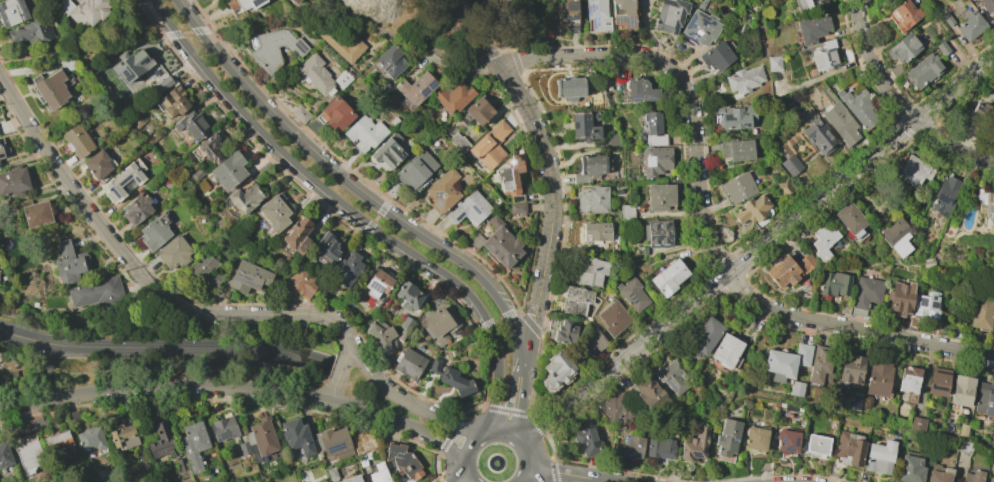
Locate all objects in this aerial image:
building: (891, 0)
building: (294, 1)
building: (243, 4)
building: (701, 4)
building: (809, 4)
building: (987, 7)
rooftop solar panel: (589, 8)
building: (84, 10)
building: (12, 12)
building: (567, 14)
building: (623, 14)
building: (597, 15)
building: (670, 15)
building: (904, 15)
road: (281, 18)
road: (507, 19)
building: (947, 19)
rooftop solar panel: (628, 20)
park: (516, 21)
rooftop solar panel: (704, 21)
rooftop solar panel: (594, 22)
rooftop solar panel: (690, 22)
park: (409, 25)
building: (970, 26)
building: (701, 27)
building: (812, 28)
building: (31, 31)
road: (475, 31)
rooftop solar panel: (693, 33)
road: (408, 37)
rooftop solar panel: (690, 38)
building: (341, 45)
road: (88, 48)
building: (274, 48)
building: (903, 48)
building: (942, 48)
building: (717, 54)
road: (500, 55)
building: (824, 59)
building: (390, 61)
building: (774, 63)
building: (131, 65)
road: (459, 69)
building: (896, 69)
building: (922, 71)
building: (314, 74)
building: (342, 79)
building: (744, 79)
rooftop solar panel: (434, 83)
building: (163, 84)
building: (569, 88)
building: (51, 89)
building: (414, 90)
rooftop solar panel: (425, 90)
building: (640, 91)
building: (452, 96)
rooftop solar panel: (635, 96)
road: (890, 96)
rooftop solar panel: (651, 97)
building: (597, 100)
building: (174, 101)
building: (859, 108)
building: (478, 111)
building: (301, 113)
building: (334, 113)
building: (979, 115)
rooftop solar panel: (727, 117)
building: (732, 118)
building: (137, 122)
building: (840, 123)
rooftop solar panel: (746, 124)
building: (192, 125)
building: (584, 126)
building: (653, 129)
building: (364, 133)
building: (819, 136)
building: (77, 141)
building: (458, 142)
building: (489, 145)
building: (209, 148)
building: (736, 150)
building: (387, 152)
building: (1, 154)
road: (983, 160)
building: (654, 161)
building: (99, 165)
building: (791, 165)
building: (591, 167)
building: (229, 170)
building: (414, 170)
building: (913, 171)
building: (197, 174)
building: (508, 174)
rooftop solar panel: (509, 174)
building: (123, 180)
building: (14, 182)
road: (345, 182)
road: (69, 186)
rooftop solar panel: (508, 186)
building: (739, 187)
building: (784, 187)
building: (442, 191)
rooftop solar panel: (438, 193)
building: (944, 196)
building: (658, 197)
building: (245, 198)
rooftop solar panel: (944, 199)
road: (551, 200)
building: (592, 200)
rooftop solar panel: (440, 206)
building: (986, 206)
building: (517, 208)
road: (350, 209)
building: (469, 209)
building: (751, 209)
rooftop solar panel: (992, 209)
building: (136, 210)
building: (626, 212)
building: (274, 213)
building: (36, 214)
building: (851, 220)
road: (702, 224)
building: (154, 231)
building: (595, 231)
building: (296, 232)
building: (658, 233)
building: (896, 236)
building: (823, 240)
building: (497, 243)
building: (301, 245)
building: (845, 245)
road: (757, 248)
building: (326, 249)
building: (173, 252)
building: (892, 262)
building: (69, 263)
building: (205, 269)
building: (347, 269)
building: (789, 270)
building: (591, 271)
building: (248, 276)
building: (665, 276)
building: (300, 282)
building: (376, 282)
building: (834, 283)
rooftop solar panel: (375, 288)
building: (96, 293)
building: (632, 294)
building: (866, 294)
building: (408, 296)
rooftop solar panel: (935, 296)
building: (900, 298)
road: (173, 300)
building: (575, 301)
rooftop solar panel: (922, 302)
building: (927, 305)
rooftop solar panel: (932, 305)
building: (845, 307)
road: (209, 312)
road: (291, 313)
building: (980, 314)
road: (80, 318)
building: (614, 319)
building: (406, 323)
building: (992, 323)
building: (438, 326)
building: (565, 331)
building: (381, 335)
building: (402, 335)
building: (706, 336)
building: (592, 341)
road: (165, 348)
building: (726, 351)
building: (786, 362)
building: (408, 363)
building: (819, 365)
building: (851, 368)
road: (167, 369)
road: (338, 372)
building: (556, 373)
building: (671, 376)
building: (451, 377)
building: (877, 377)
building: (909, 380)
building: (937, 381)
road: (238, 388)
building: (796, 389)
rooftop solar panel: (935, 389)
road: (517, 390)
building: (961, 390)
building: (650, 394)
building: (985, 398)
road: (404, 400)
building: (616, 409)
building: (73, 416)
building: (35, 423)
building: (916, 424)
building: (223, 428)
road: (501, 429)
rooftop solar panel: (226, 435)
building: (123, 436)
building: (261, 436)
building: (296, 436)
building: (727, 437)
building: (586, 438)
building: (90, 439)
building: (755, 439)
building: (57, 440)
building: (161, 441)
building: (787, 441)
road: (469, 442)
building: (335, 443)
building: (193, 444)
building: (817, 444)
building: (694, 445)
building: (632, 447)
building: (850, 447)
building: (243, 448)
rooftop solar panel: (335, 448)
building: (659, 448)
building: (28, 452)
road: (529, 452)
building: (4, 455)
building: (879, 457)
building: (403, 461)
building: (362, 462)
fountain: (496, 463)
building: (910, 468)
building: (331, 473)
building: (378, 473)
building: (939, 473)
road: (568, 475)
road: (459, 476)
road: (466, 476)
building: (972, 476)
building: (351, 479)
road: (574, 479)
road: (528, 480)
building: (293, 481)
building: (323, 481)
building: (324, 481)

